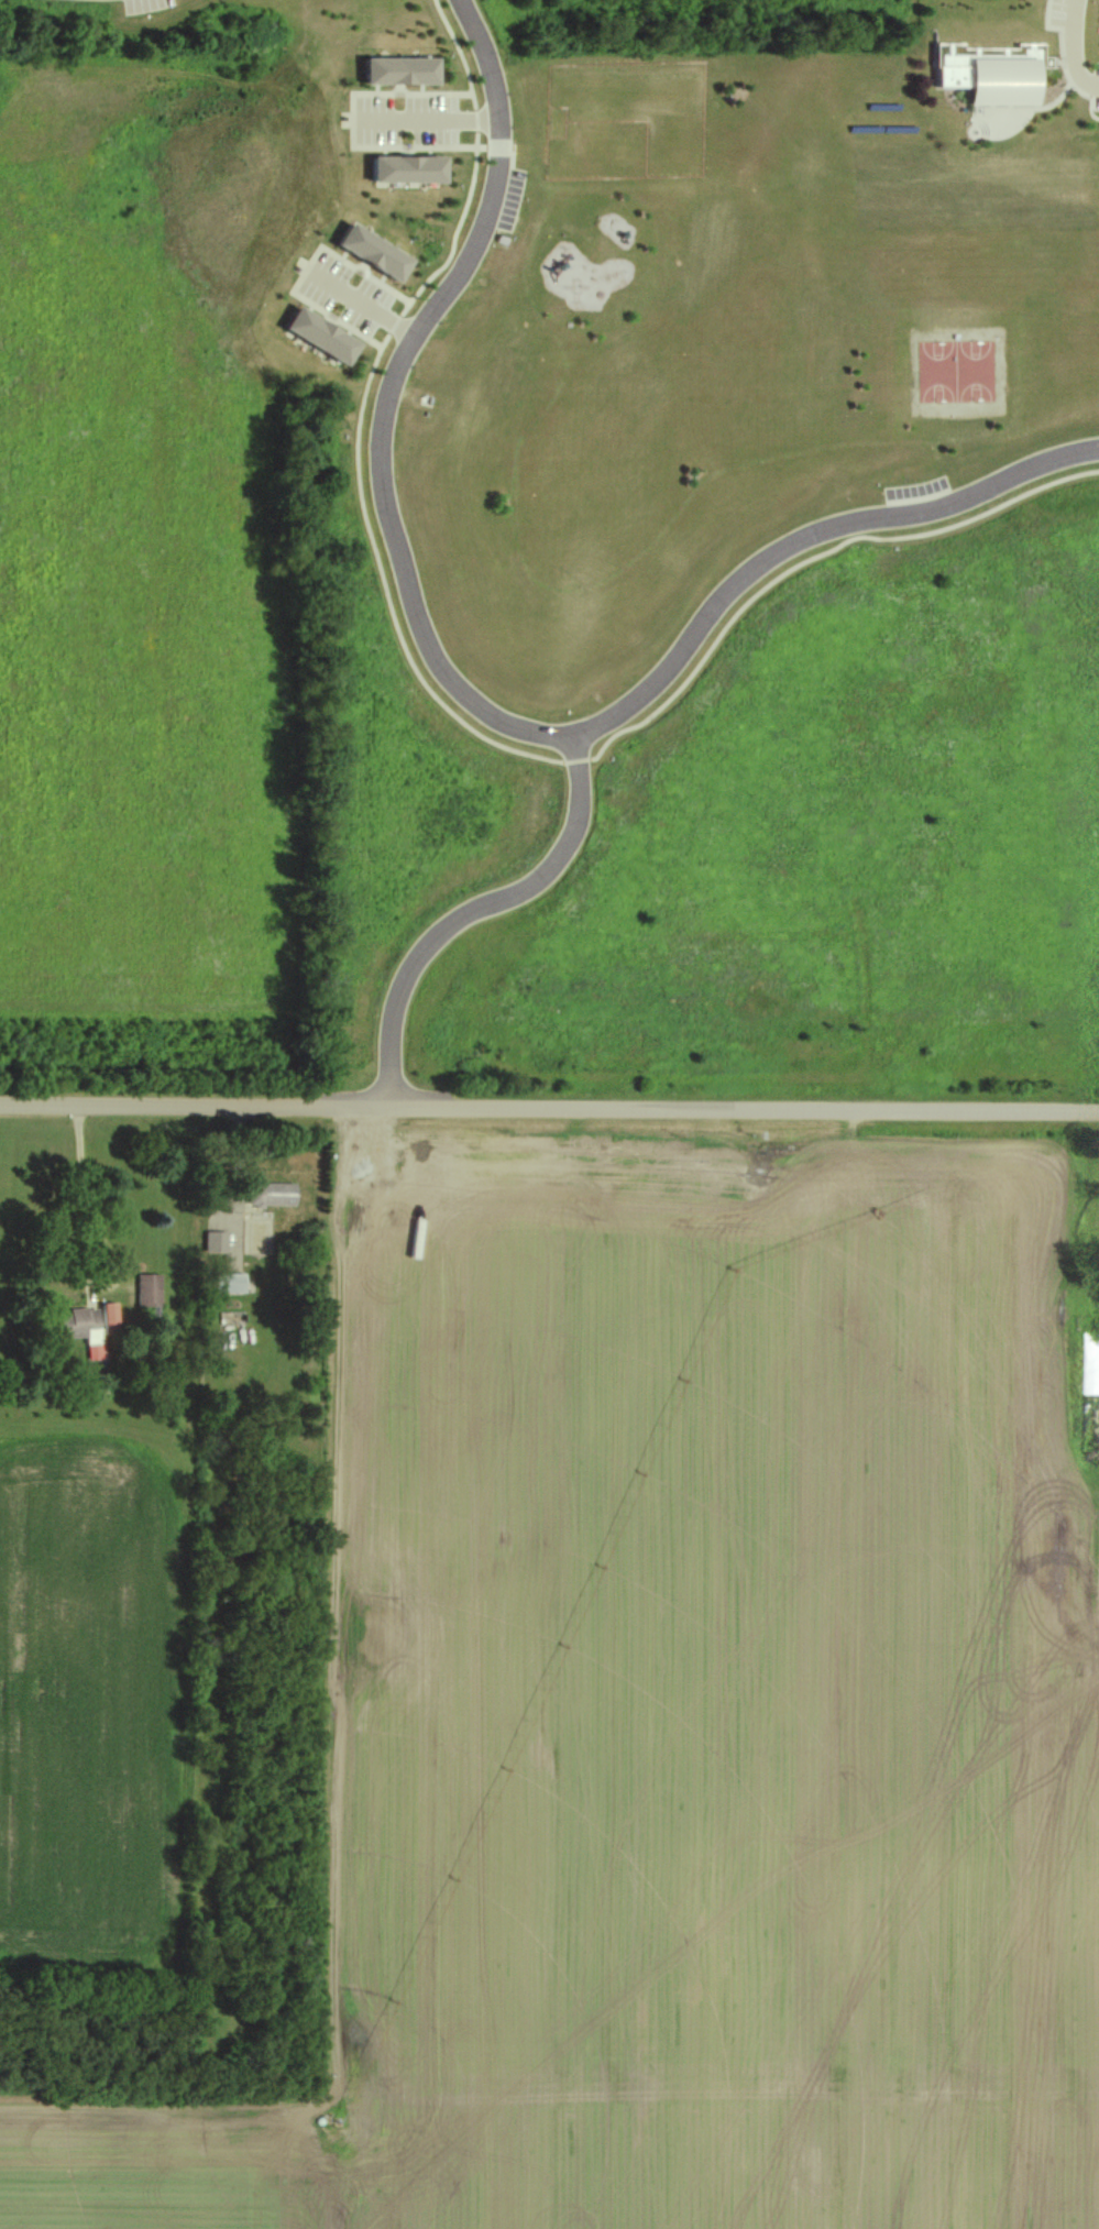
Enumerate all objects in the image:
road: (1077, 50)
building: (986, 73)
road: (432, 122)
road: (371, 311)
road: (463, 694)
road: (479, 915)
road: (549, 1109)
road: (78, 1193)
building: (268, 1195)
building: (227, 1284)
building: (149, 1294)
building: (86, 1324)
building: (1092, 1362)

